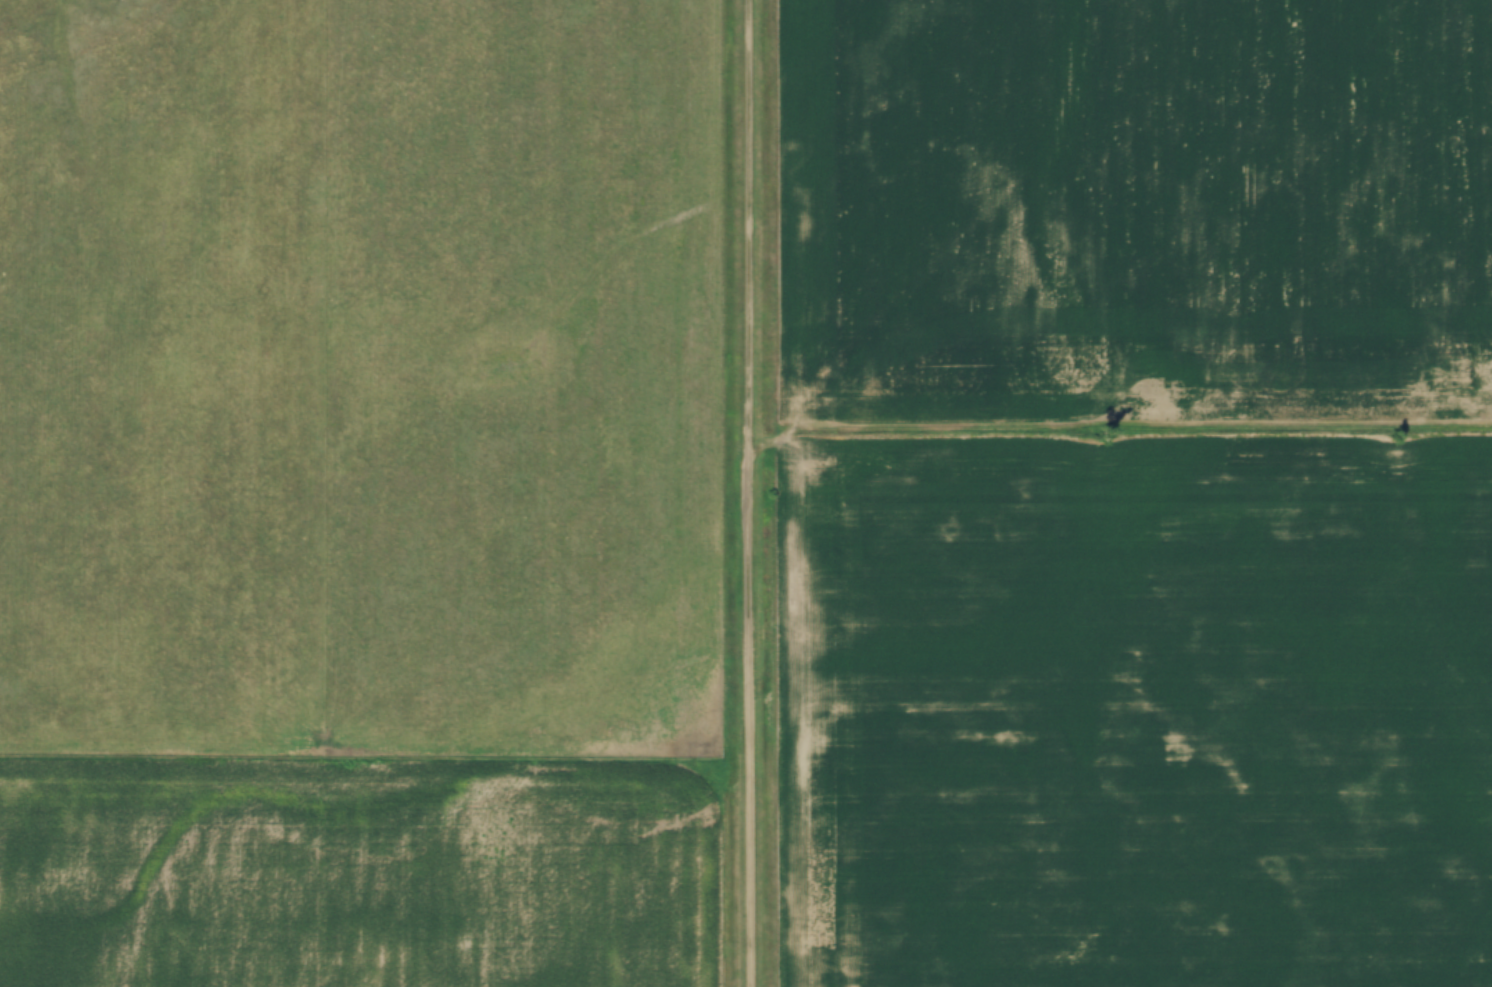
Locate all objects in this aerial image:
road: (751, 493)

